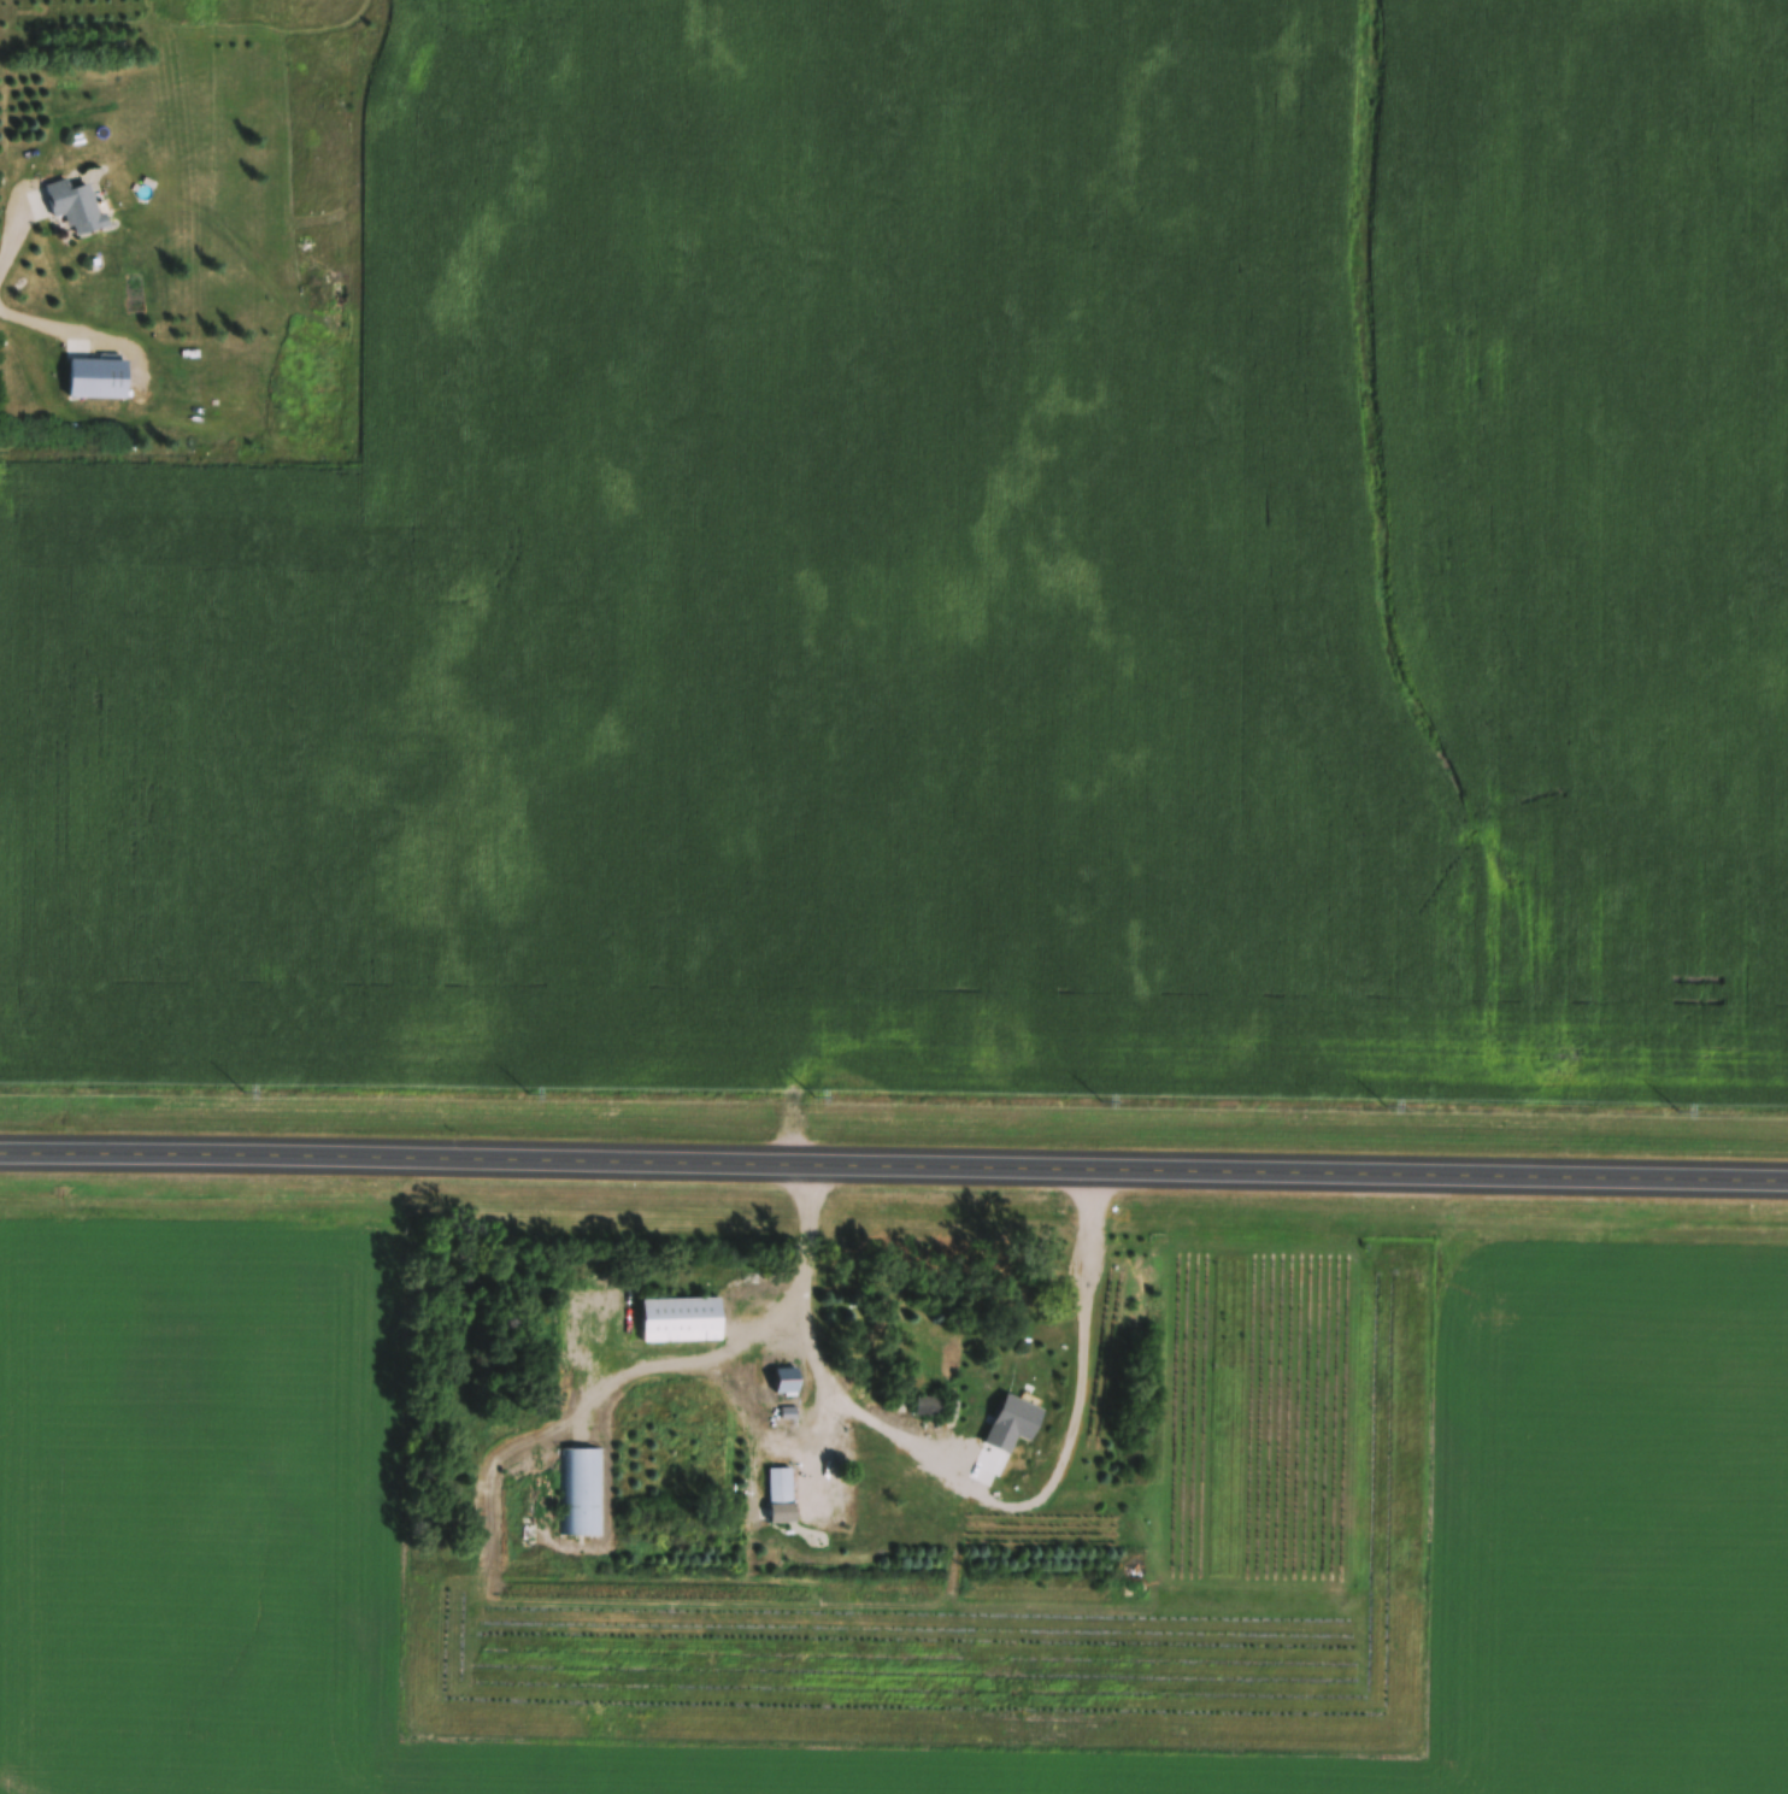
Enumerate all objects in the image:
building: (76, 206)
road: (10, 242)
building: (98, 378)
road: (894, 1164)
building: (680, 1322)
building: (786, 1382)
building: (1014, 1387)
building: (929, 1407)
road: (963, 1455)
building: (580, 1493)
building: (782, 1513)

